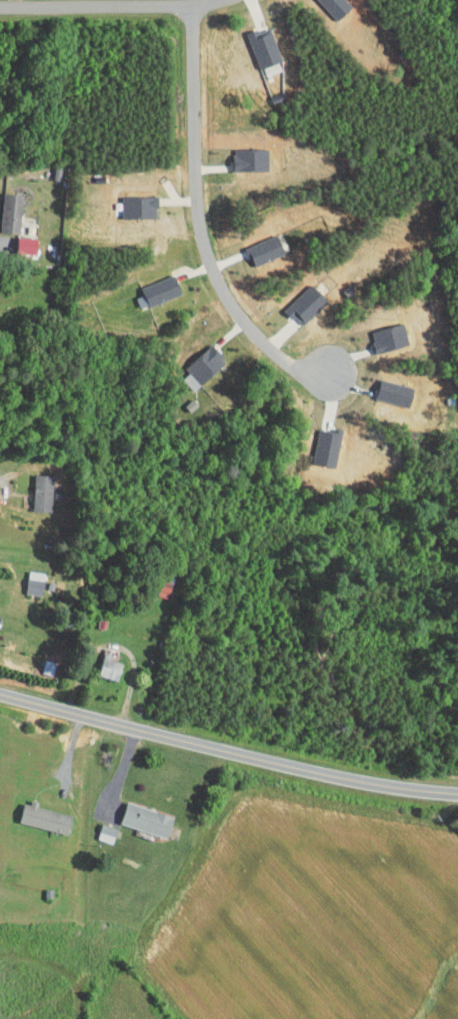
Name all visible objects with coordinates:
road: (201, 4)
building: (328, 4)
road: (93, 8)
building: (241, 152)
building: (128, 200)
building: (6, 206)
road: (200, 223)
building: (18, 238)
road: (1, 243)
building: (256, 243)
building: (151, 284)
building: (296, 297)
building: (380, 331)
building: (195, 358)
building: (385, 387)
building: (316, 441)
building: (32, 486)
road: (5, 488)
building: (25, 576)
building: (39, 660)
building: (102, 662)
road: (119, 672)
road: (227, 750)
road: (119, 775)
building: (36, 812)
building: (138, 813)
building: (97, 827)

